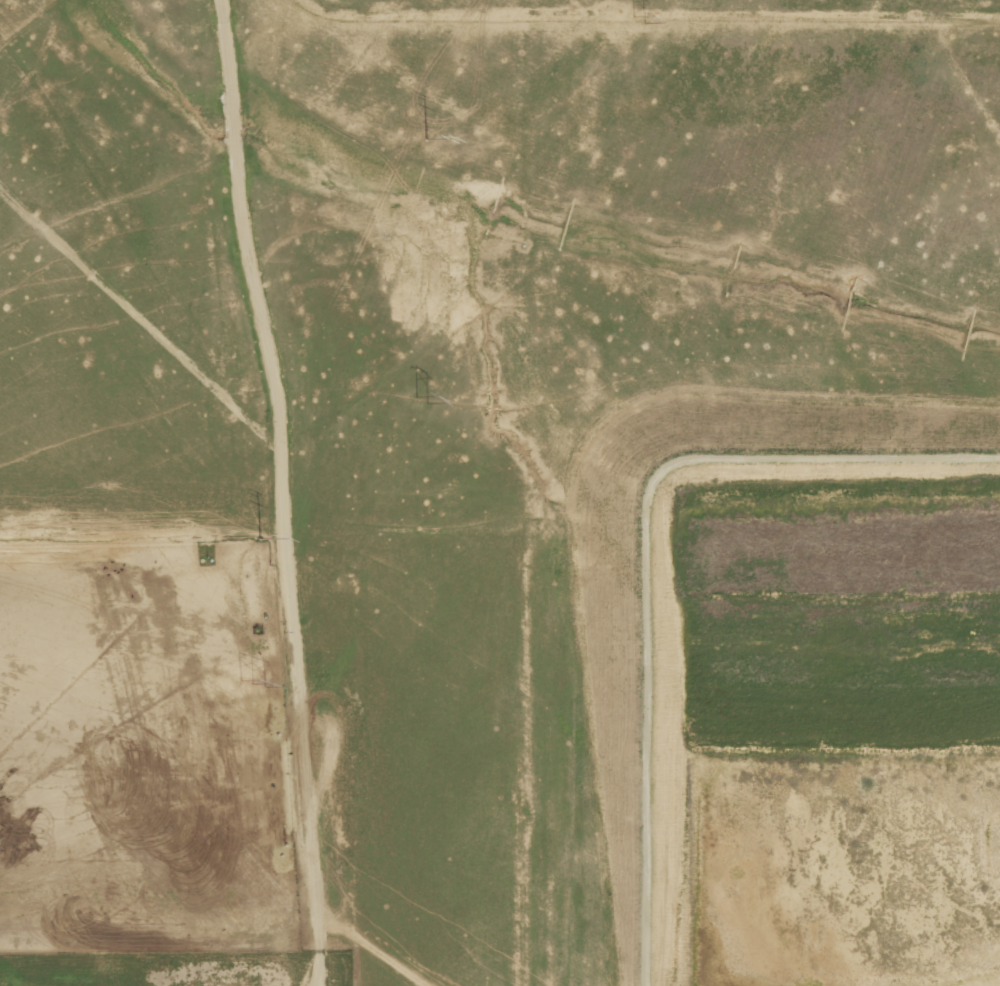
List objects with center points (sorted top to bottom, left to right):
power tower: (637, 18)
power tower: (424, 142)
power tower: (418, 399)
power plant: (500, 493)
power tower: (258, 539)
power tower: (252, 680)

